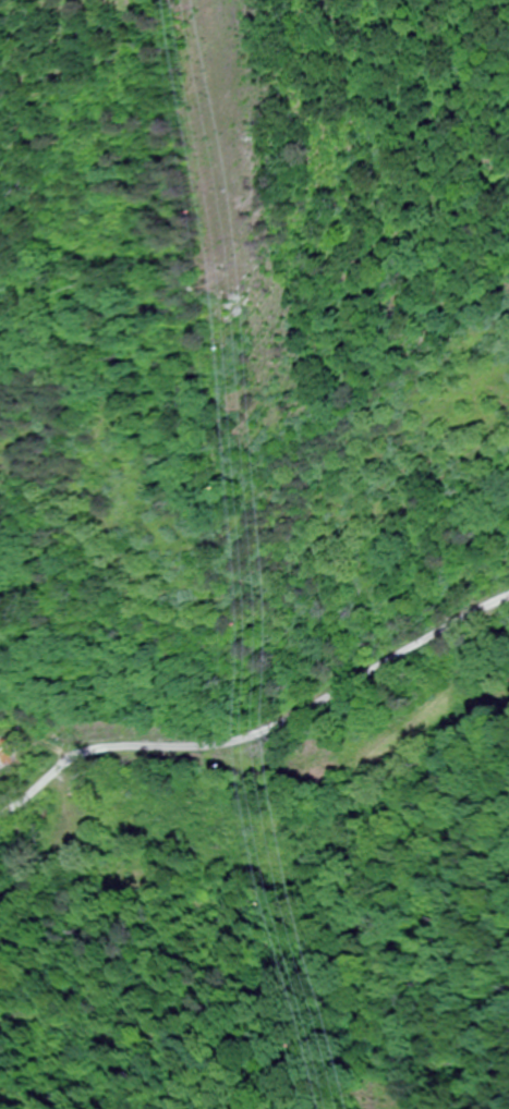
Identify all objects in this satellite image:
road: (260, 733)
building: (4, 756)

